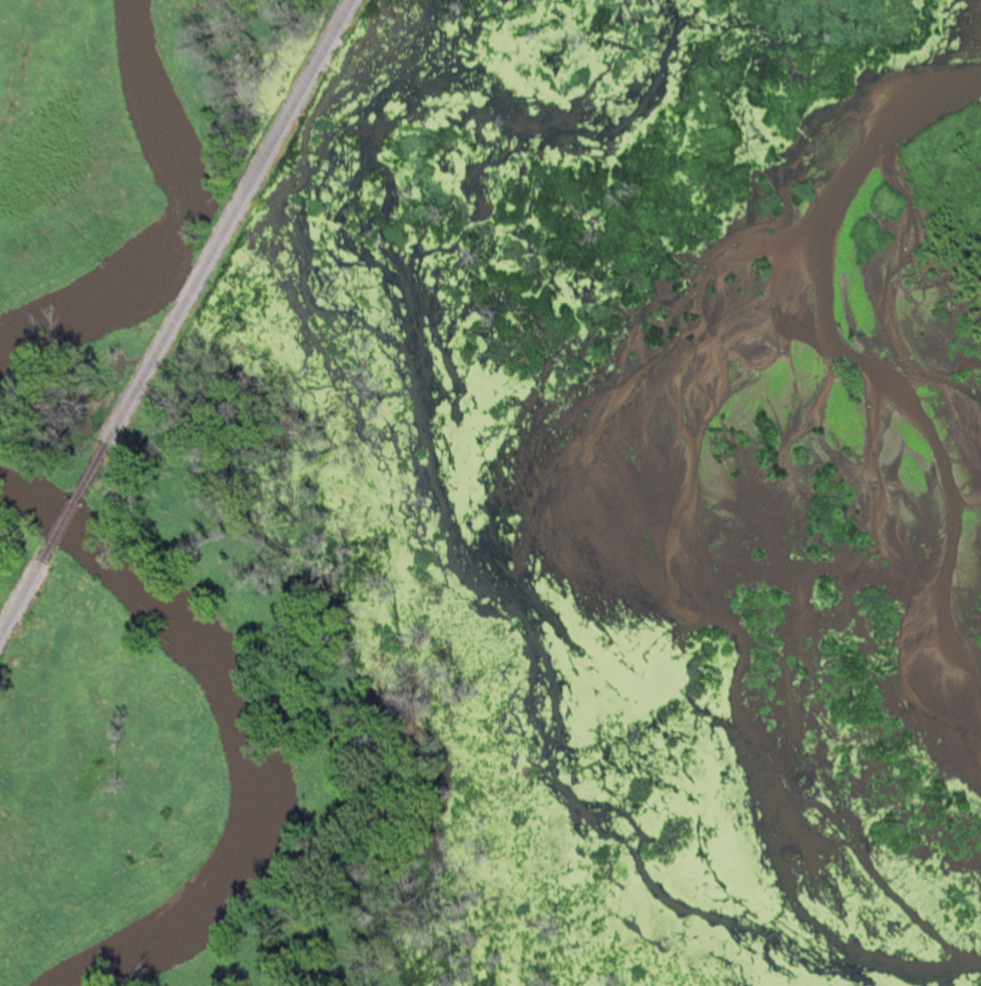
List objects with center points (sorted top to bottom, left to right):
river: (187, 221)
railway: (167, 306)
river: (234, 721)

